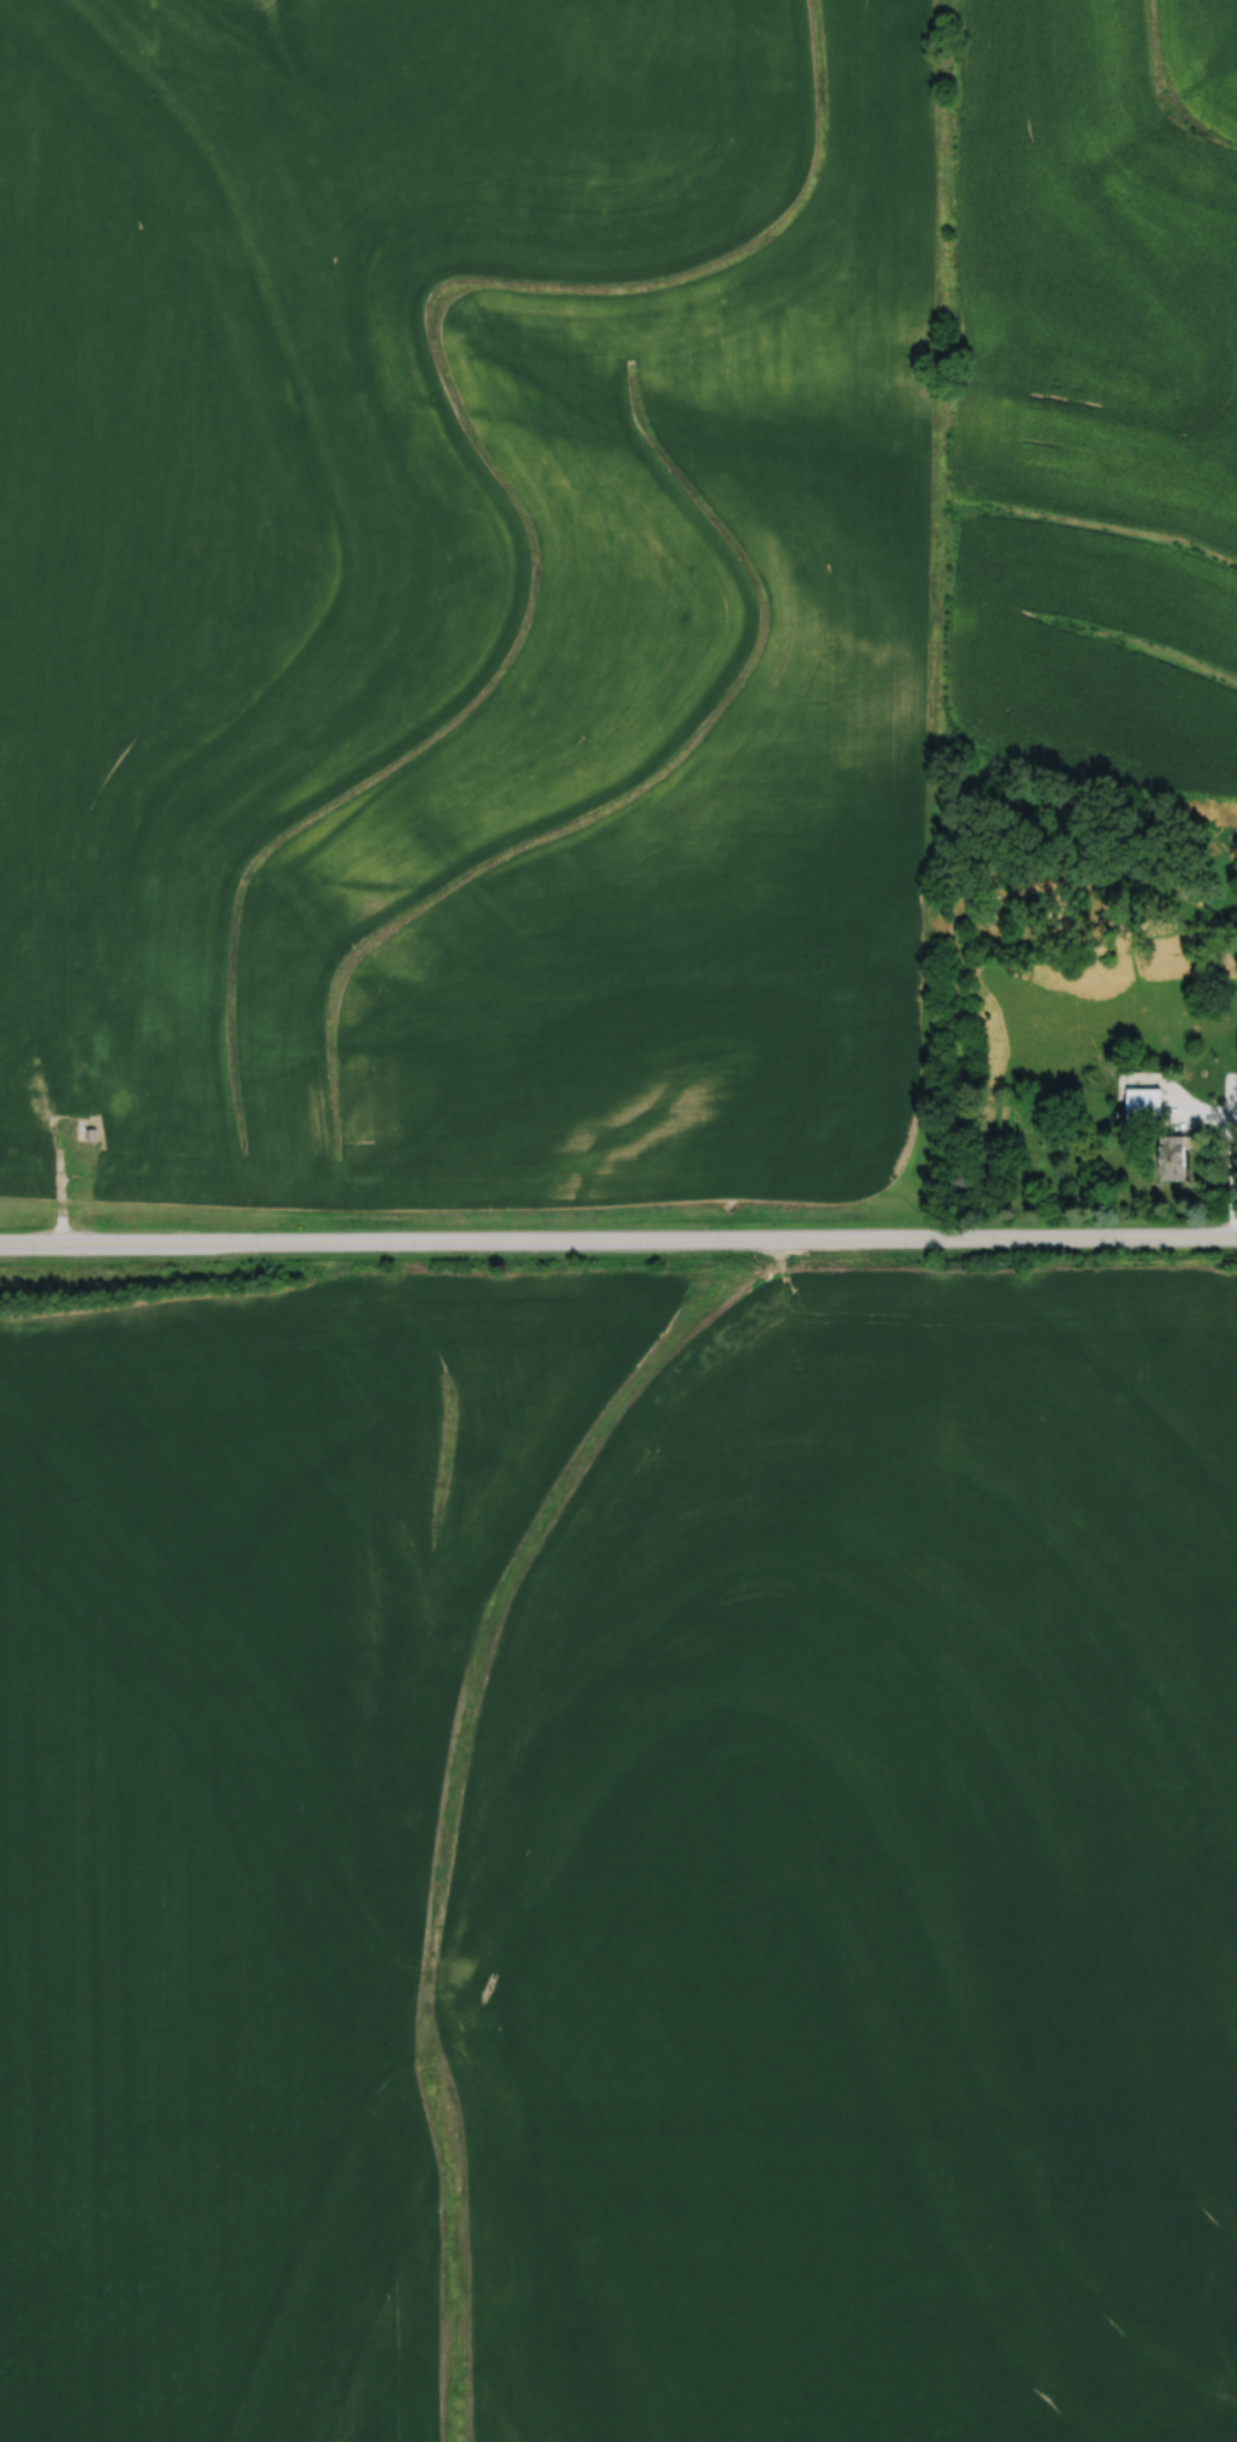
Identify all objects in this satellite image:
crop: (1090, 387)
crop: (471, 597)
building: (1236, 1060)
building: (1142, 1108)
building: (1169, 1159)
road: (618, 1239)
crop: (620, 1863)

